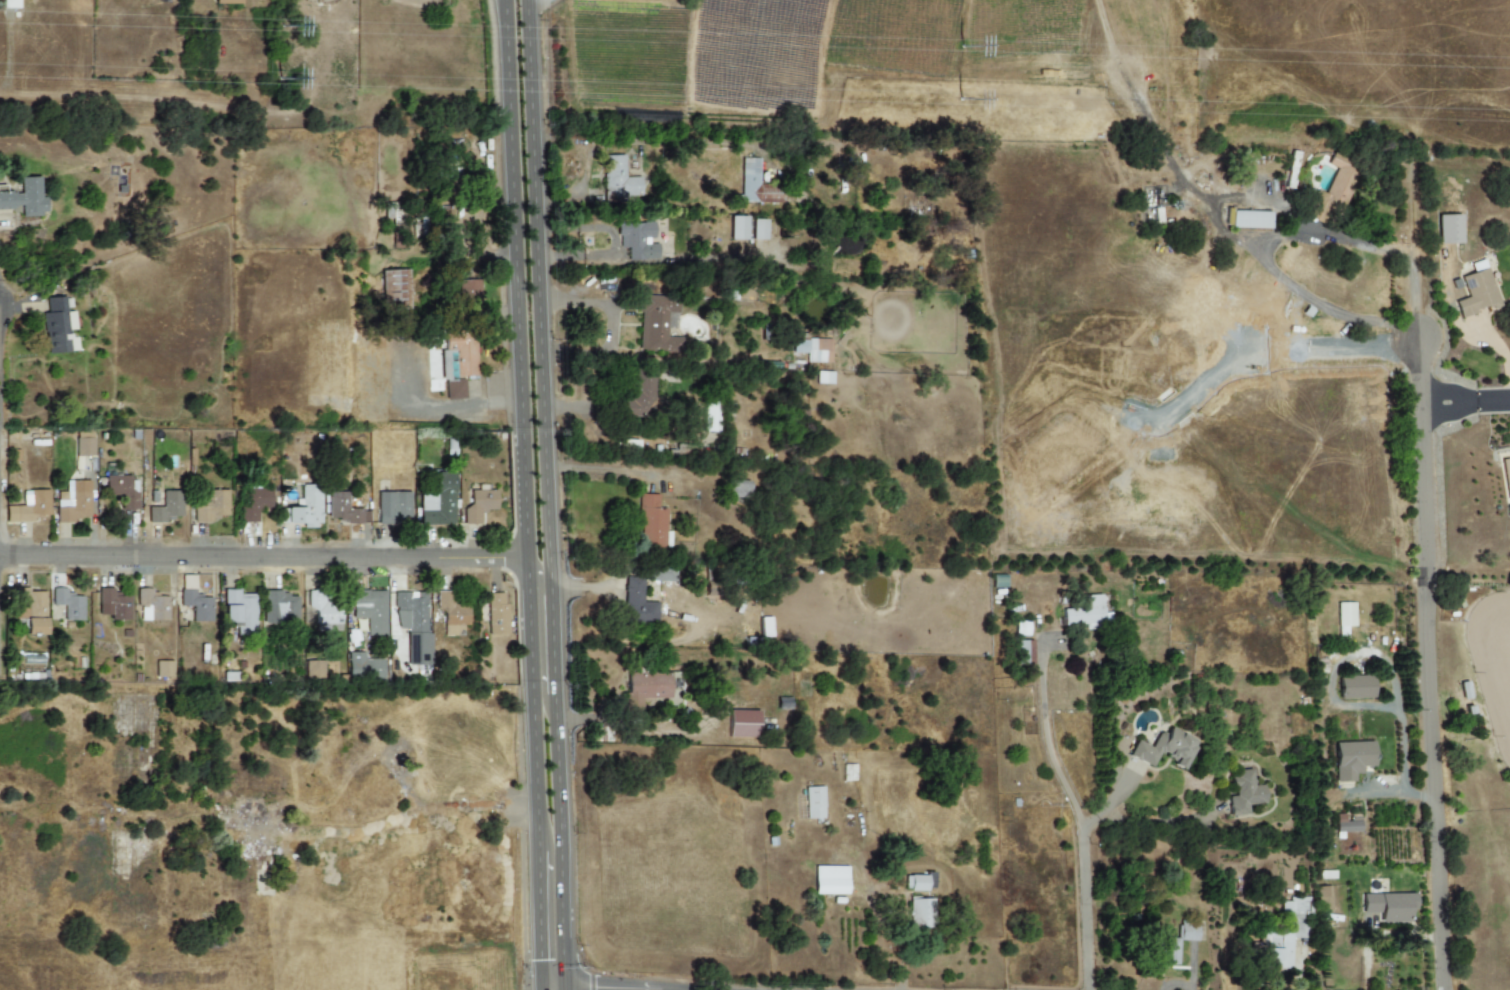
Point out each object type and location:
building: (231, 1)
building: (10, 3)
road: (539, 4)
road: (493, 152)
building: (619, 180)
building: (756, 184)
building: (1332, 190)
building: (25, 197)
building: (1249, 221)
building: (738, 228)
building: (759, 229)
building: (1448, 229)
building: (639, 241)
road: (1266, 244)
road: (479, 250)
road: (1412, 253)
road: (608, 255)
road: (513, 279)
building: (394, 289)
building: (467, 290)
building: (1476, 293)
road: (1326, 307)
building: (655, 324)
building: (56, 326)
road: (612, 327)
building: (810, 350)
building: (457, 362)
building: (824, 377)
building: (639, 396)
road: (1464, 401)
road: (433, 409)
road: (574, 409)
building: (708, 416)
building: (83, 444)
road: (623, 472)
building: (1506, 481)
building: (736, 488)
building: (122, 490)
road: (557, 494)
building: (438, 500)
building: (72, 501)
building: (254, 503)
building: (164, 505)
building: (211, 505)
building: (478, 505)
building: (29, 506)
building: (304, 506)
building: (392, 506)
building: (343, 509)
building: (652, 524)
road: (261, 556)
road: (585, 588)
building: (67, 603)
building: (637, 603)
building: (113, 604)
building: (151, 605)
building: (196, 605)
building: (323, 607)
building: (30, 609)
building: (279, 609)
building: (369, 610)
building: (239, 611)
building: (451, 613)
building: (495, 613)
building: (1344, 618)
building: (414, 623)
building: (1021, 628)
road: (541, 643)
road: (1430, 656)
building: (364, 668)
building: (163, 669)
building: (314, 669)
building: (674, 686)
building: (1355, 687)
building: (645, 688)
road: (528, 705)
road: (587, 719)
building: (743, 724)
road: (1045, 737)
building: (1164, 749)
building: (1352, 760)
road: (410, 762)
building: (1243, 793)
building: (813, 803)
building: (1347, 824)
road: (386, 827)
road: (1082, 876)
building: (830, 880)
building: (918, 882)
building: (1323, 899)
building: (1388, 906)
building: (920, 913)
road: (533, 921)
building: (1188, 931)
building: (1283, 935)
building: (1165, 950)
traffic signals: (535, 961)

